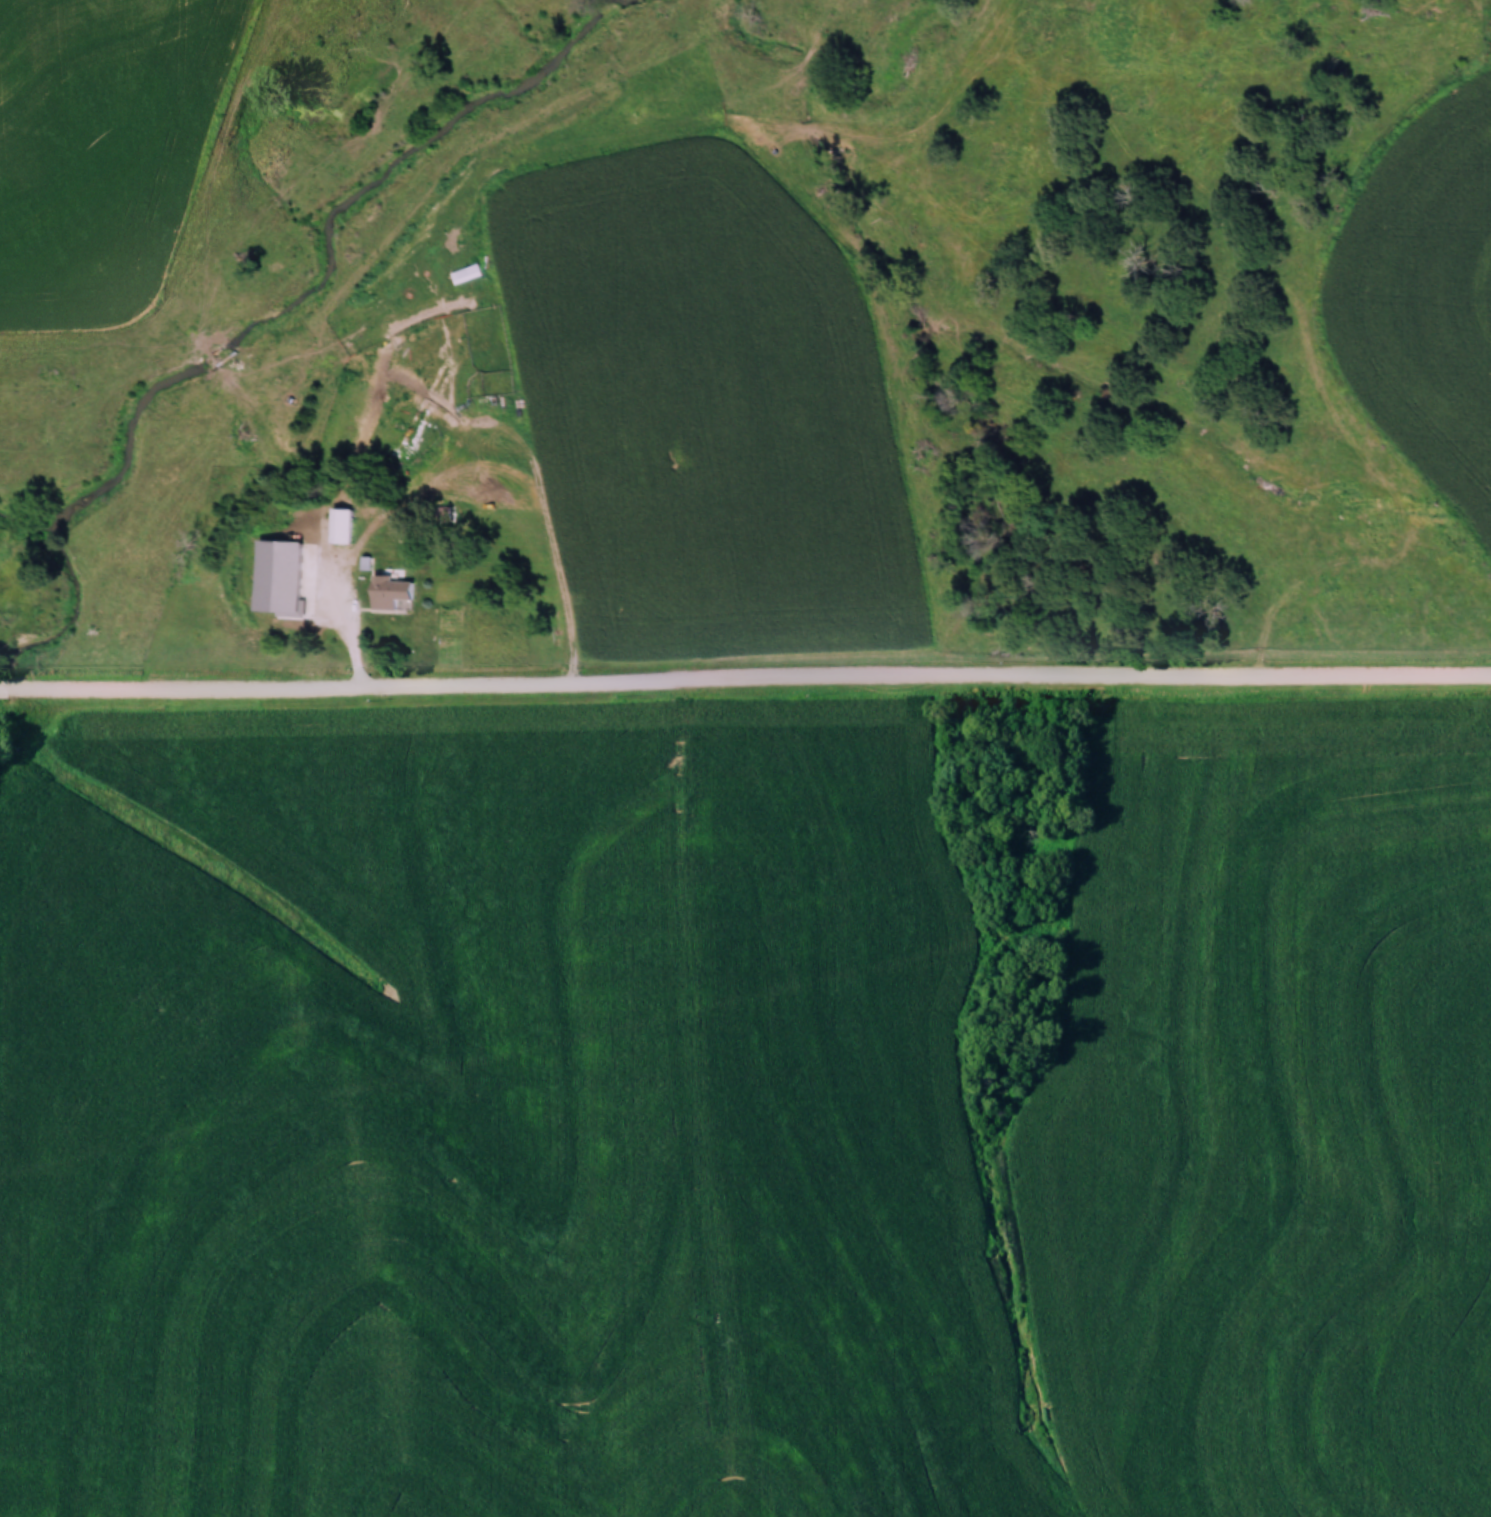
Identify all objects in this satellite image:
building: (340, 525)
road: (659, 588)
building: (388, 592)
building: (278, 610)
road: (745, 680)

